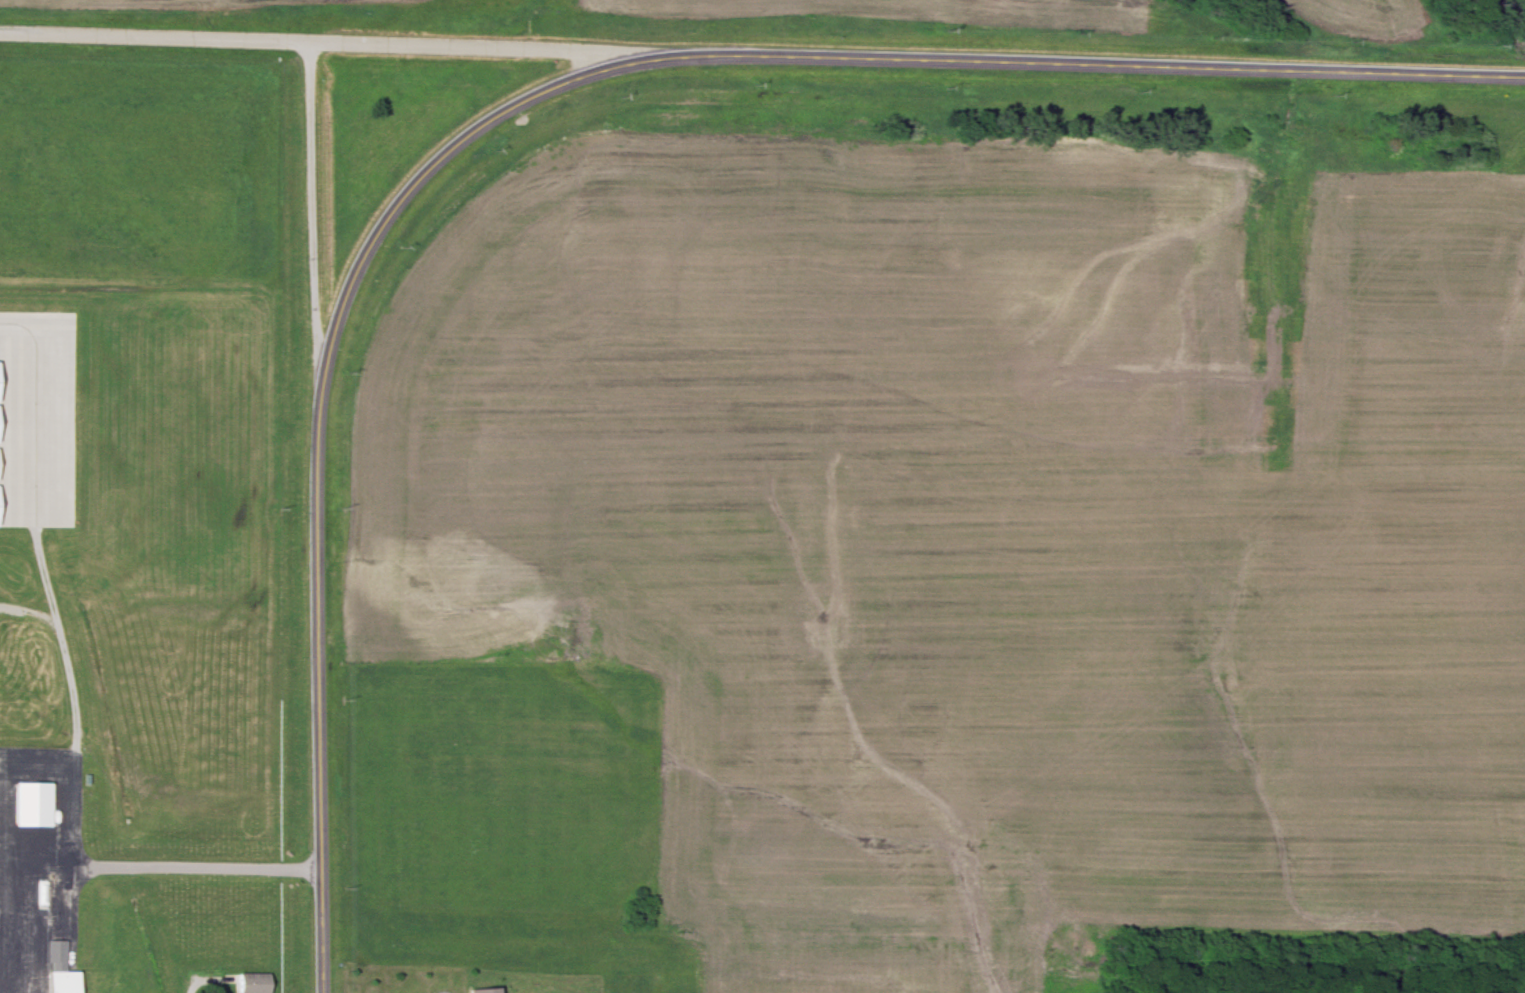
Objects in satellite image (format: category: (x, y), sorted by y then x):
crop: (161, 3)
crop: (1518, 11)
crop: (916, 12)
crop: (1362, 16)
road: (308, 44)
road: (1069, 66)
road: (422, 173)
road: (310, 207)
crop: (145, 323)
airport: (151, 526)
crop: (979, 526)
road: (315, 681)
building: (27, 806)
airport apron: (31, 859)
road: (163, 870)
building: (53, 955)
crop: (831, 968)
building: (58, 983)
building: (252, 985)
building: (490, 990)

